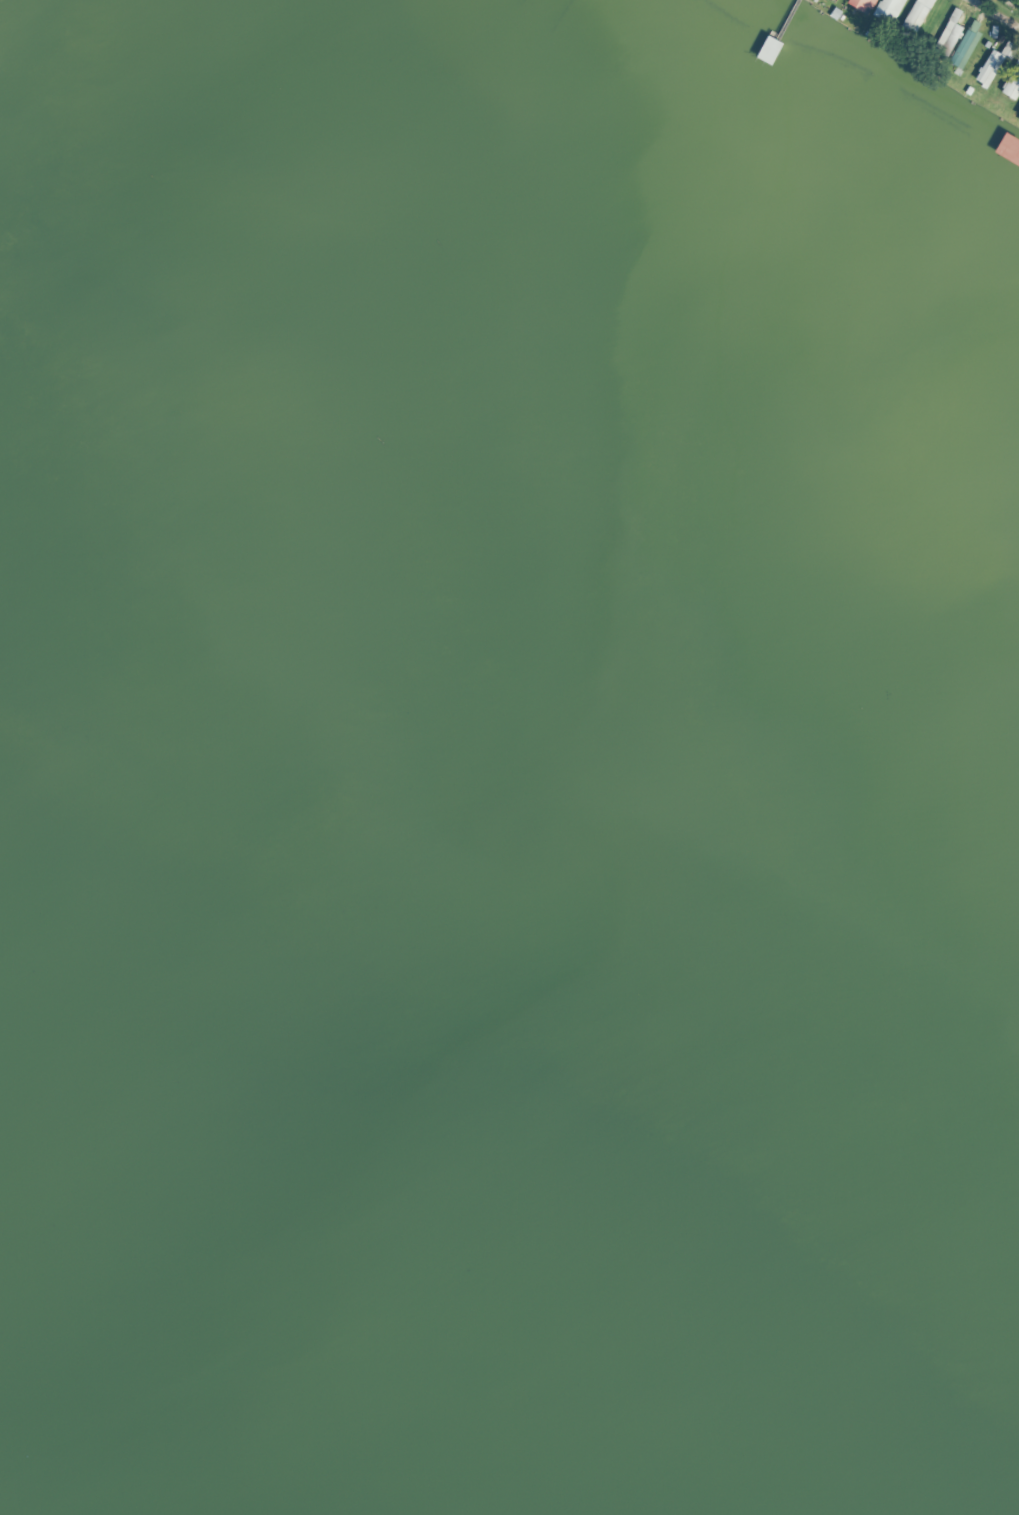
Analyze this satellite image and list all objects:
building: (860, 5)
building: (886, 10)
building: (914, 17)
building: (946, 36)
building: (964, 45)
road: (916, 47)
building: (991, 66)
building: (1018, 119)

